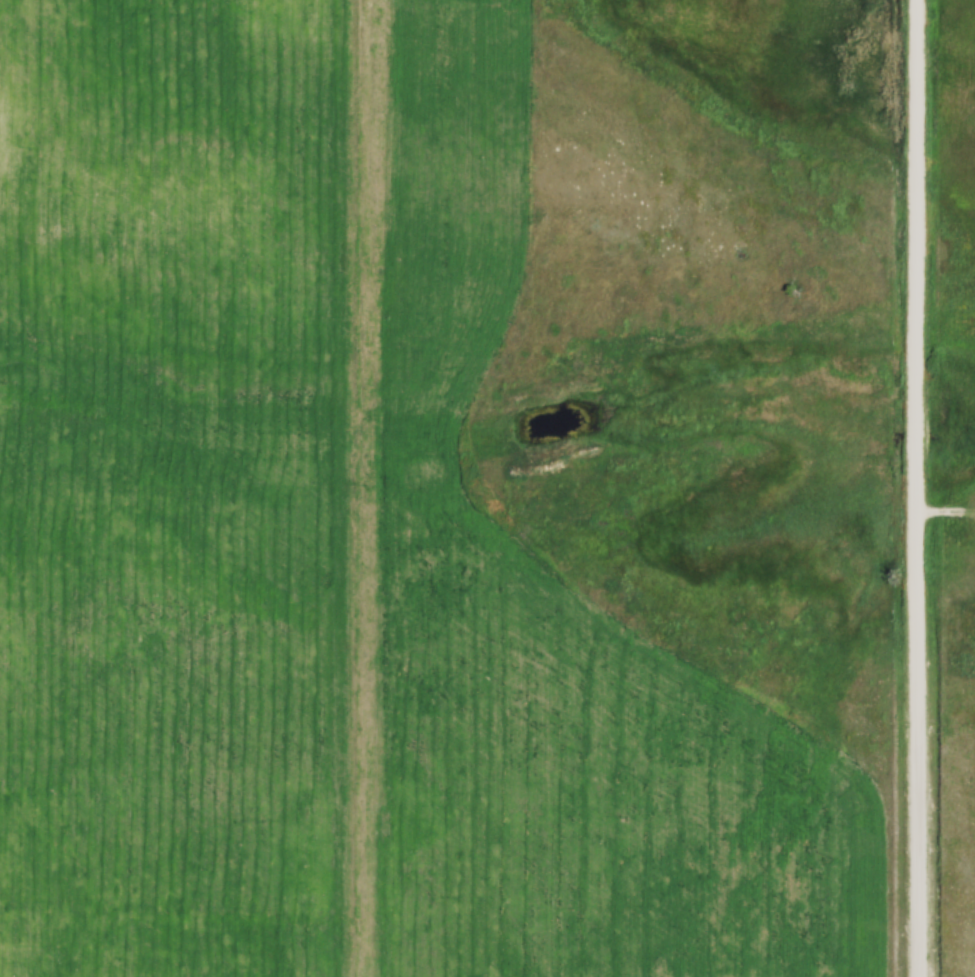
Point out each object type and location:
road: (918, 488)

